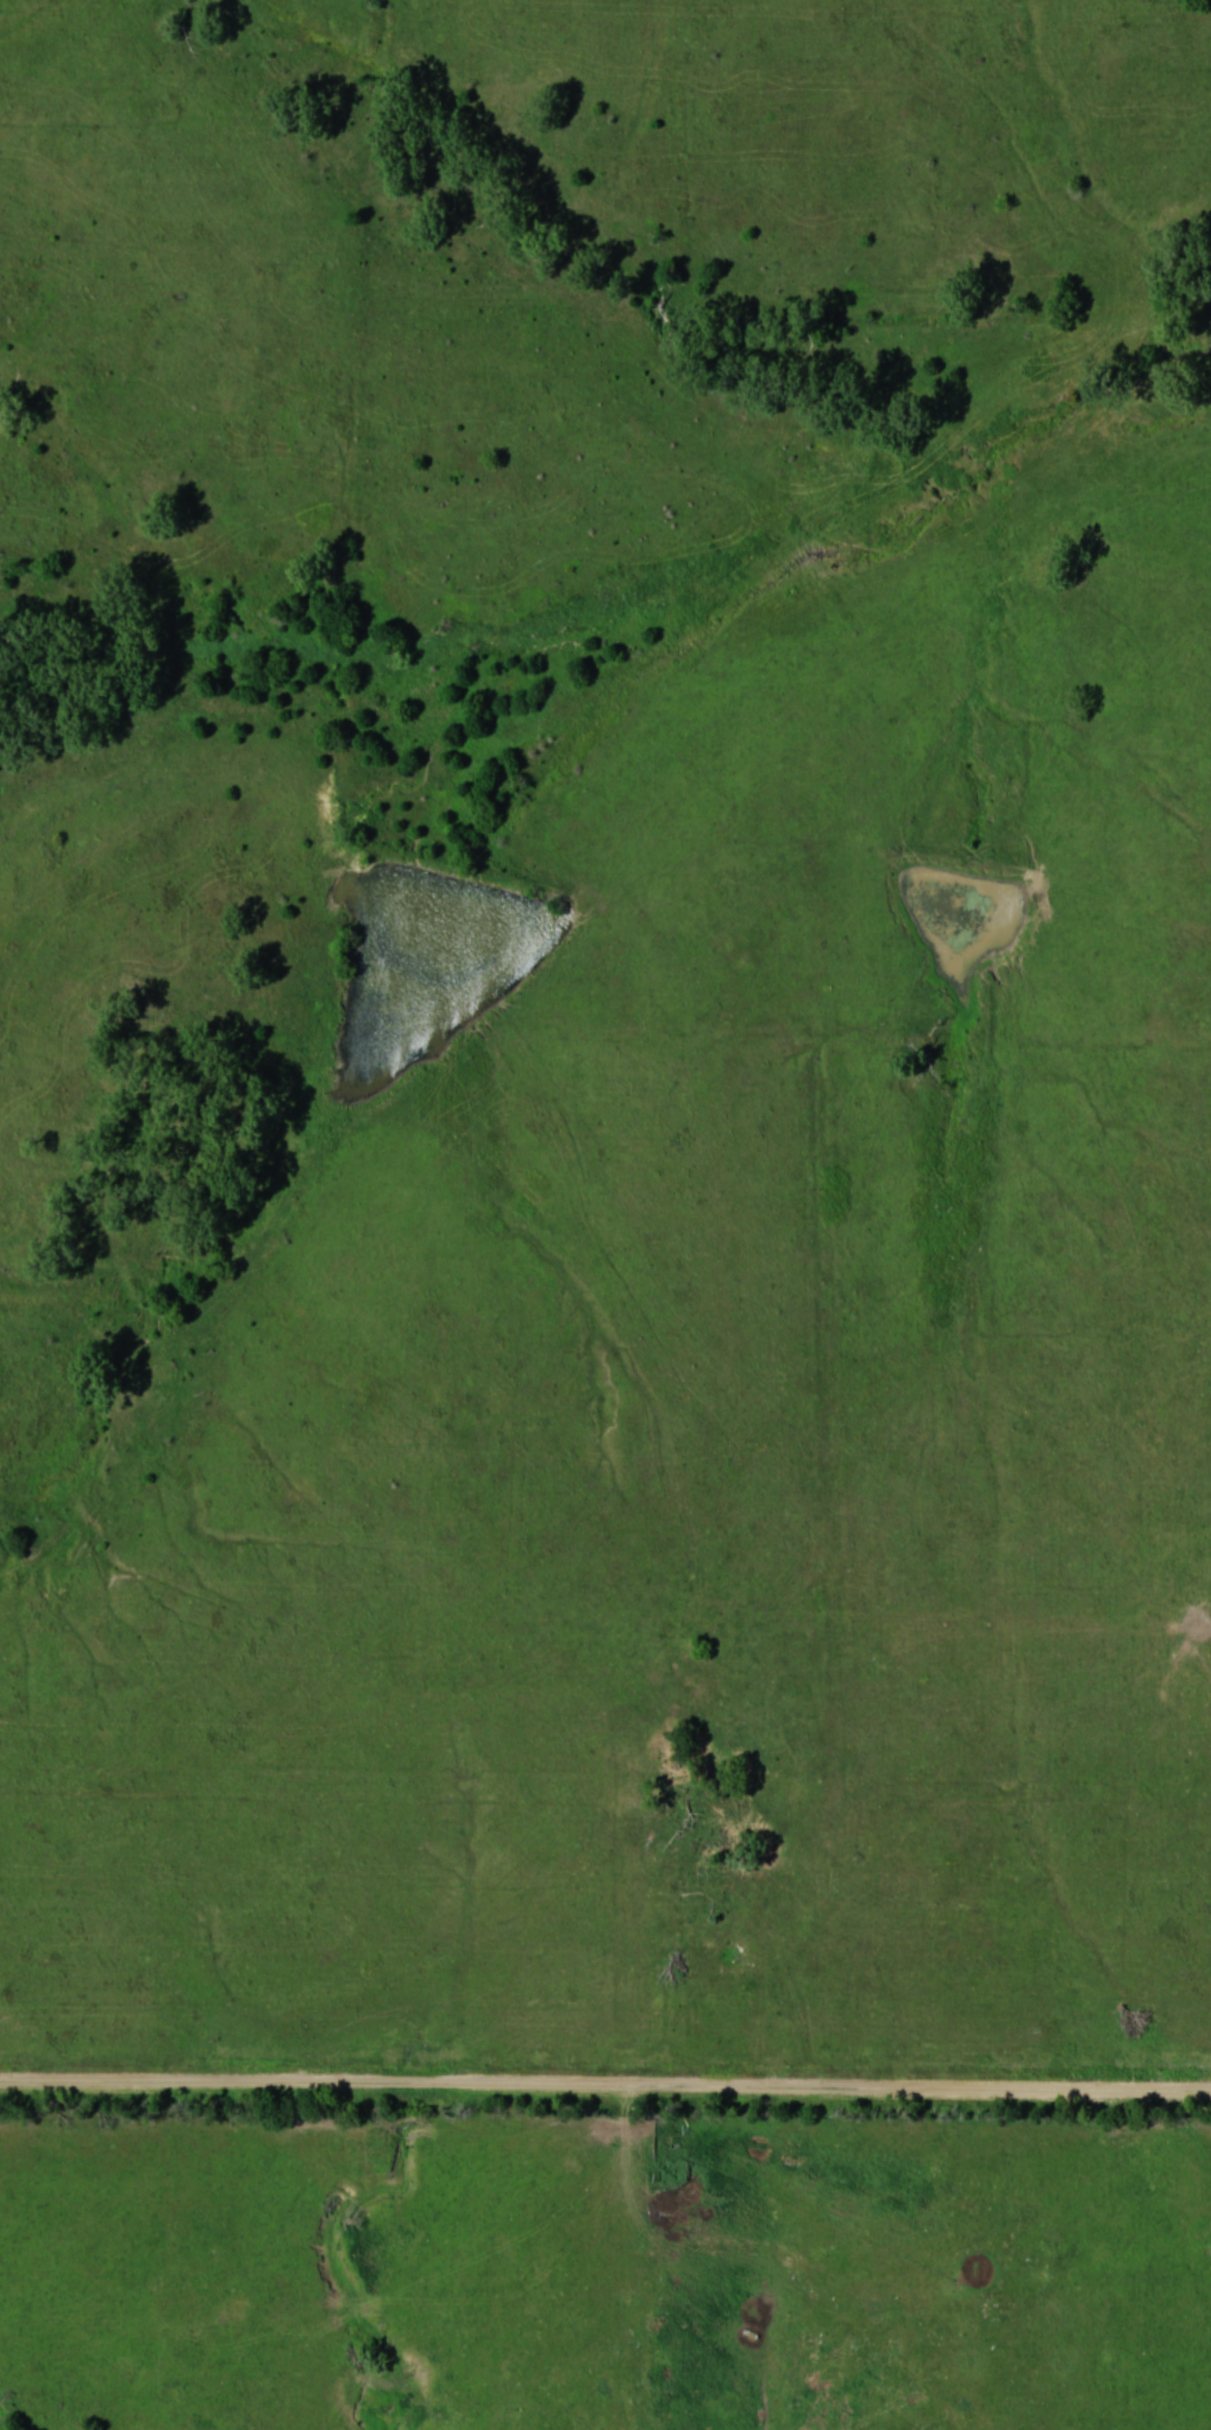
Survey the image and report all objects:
road: (605, 2087)

